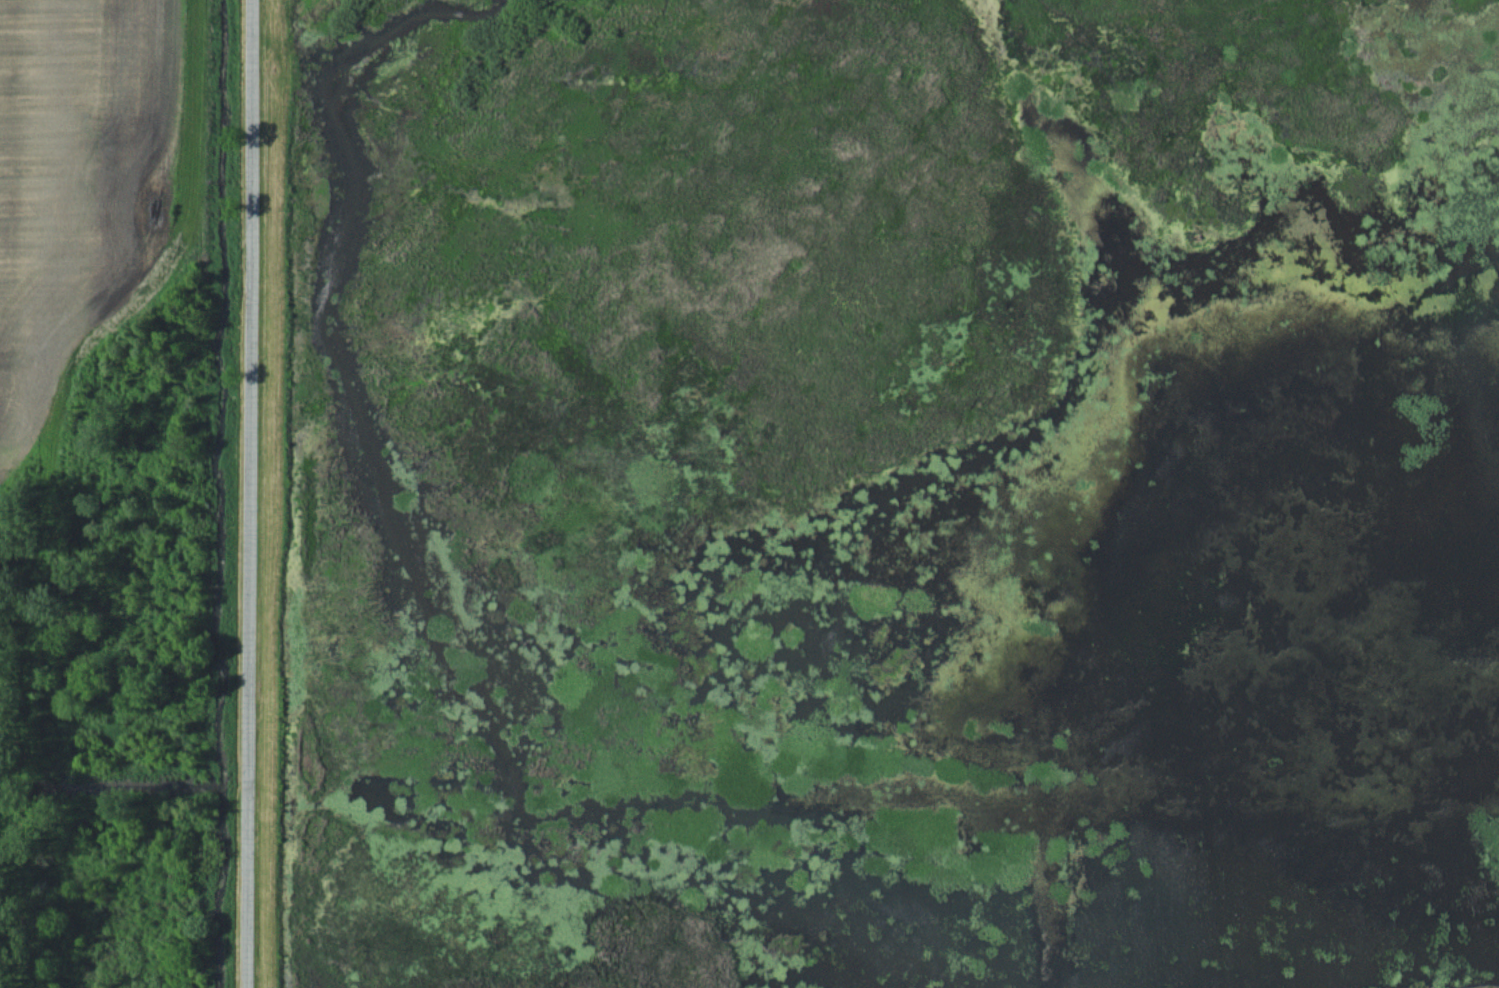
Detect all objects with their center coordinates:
road: (125, 295)
road: (257, 494)

